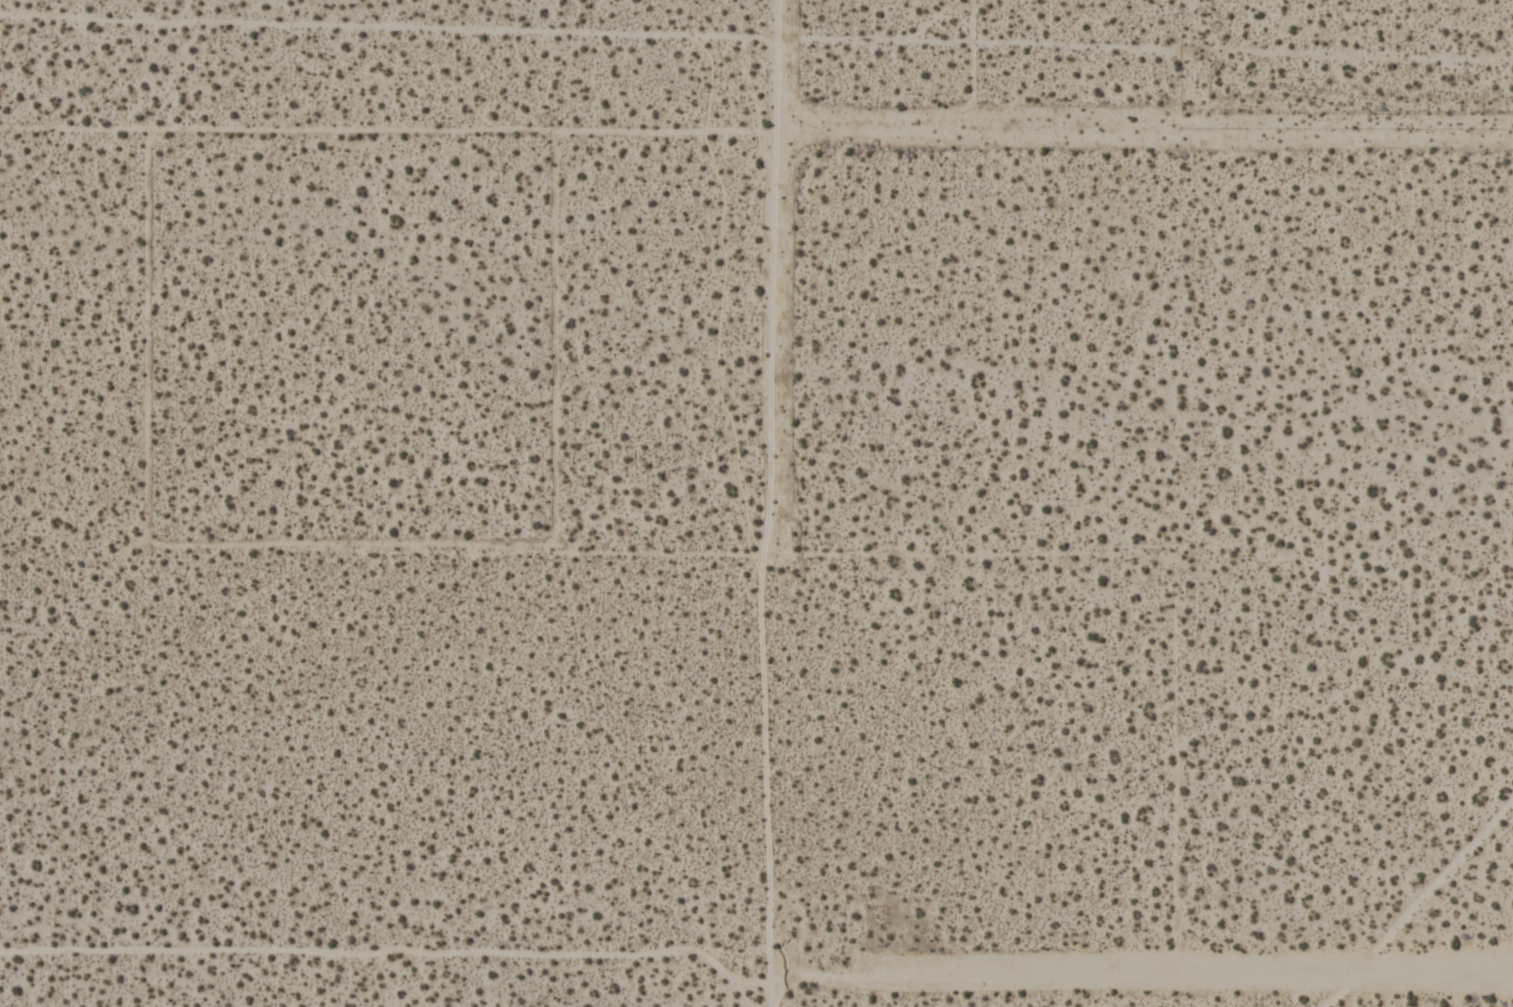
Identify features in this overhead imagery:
road: (1137, 130)
road: (760, 503)
road: (390, 956)
road: (1141, 983)

